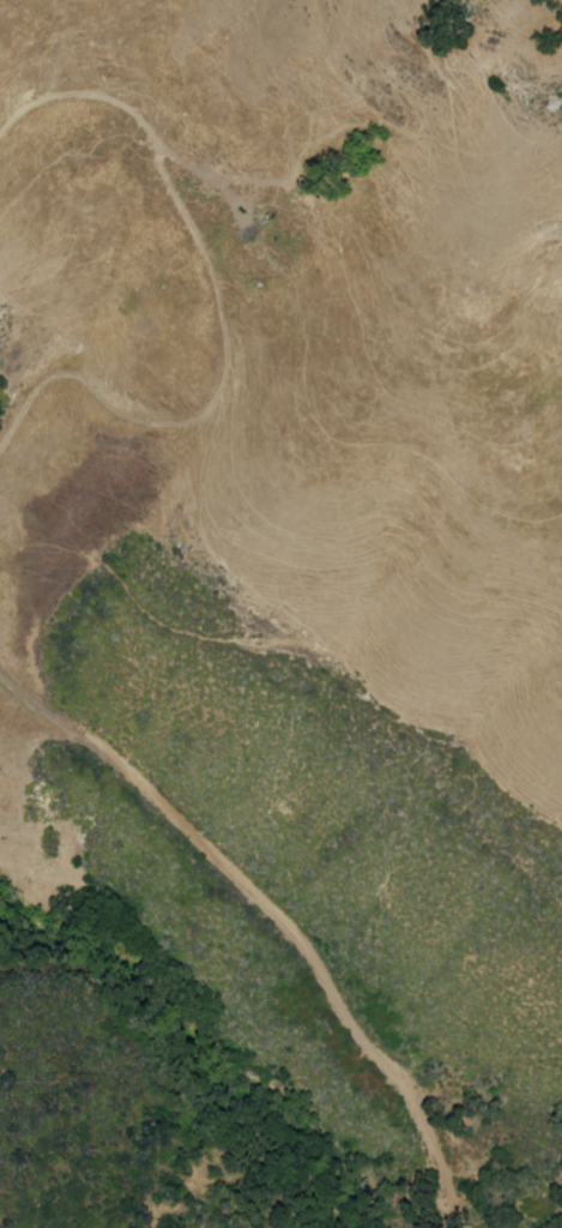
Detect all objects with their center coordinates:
road: (218, 306)
road: (220, 860)
road: (446, 1160)

